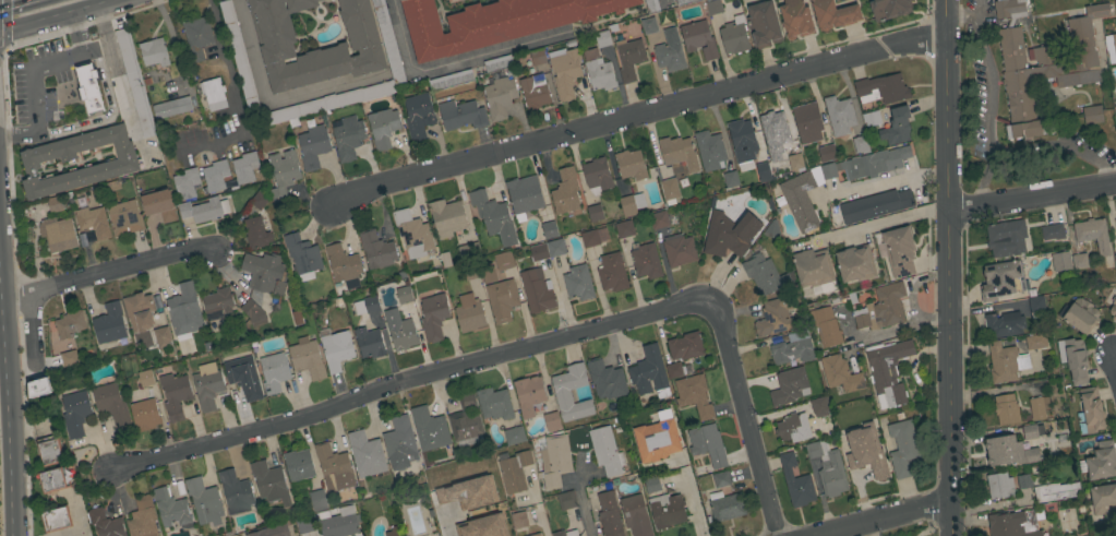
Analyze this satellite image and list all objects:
building: (1115, 0)
building: (451, 1)
building: (685, 2)
road: (4, 3)
building: (651, 5)
building: (713, 7)
building: (889, 9)
road: (49, 14)
building: (835, 14)
building: (1115, 17)
building: (795, 19)
building: (495, 22)
building: (763, 24)
building: (648, 25)
building: (197, 36)
building: (734, 36)
building: (602, 39)
building: (698, 39)
building: (388, 43)
building: (276, 47)
building: (1111, 47)
building: (670, 51)
building: (154, 52)
building: (238, 52)
building: (537, 57)
building: (629, 58)
road: (453, 61)
building: (1042, 62)
building: (497, 64)
road: (32, 71)
building: (564, 71)
building: (598, 71)
road: (987, 74)
road: (117, 79)
building: (147, 79)
building: (449, 81)
building: (134, 83)
building: (92, 88)
building: (881, 90)
building: (533, 92)
road: (235, 94)
building: (72, 95)
building: (215, 97)
building: (499, 97)
road: (273, 102)
building: (328, 103)
building: (171, 108)
road: (638, 114)
building: (461, 115)
building: (1092, 115)
building: (418, 116)
building: (839, 116)
building: (871, 118)
building: (807, 122)
building: (897, 127)
building: (383, 128)
building: (775, 129)
building: (348, 138)
building: (1115, 140)
building: (742, 141)
building: (861, 144)
building: (313, 146)
building: (709, 150)
road: (1057, 150)
building: (677, 153)
building: (827, 153)
building: (123, 162)
building: (796, 163)
building: (876, 163)
building: (631, 165)
building: (244, 168)
building: (828, 171)
building: (764, 172)
building: (283, 174)
building: (215, 176)
building: (597, 176)
building: (731, 179)
road: (888, 181)
road: (983, 182)
building: (185, 183)
building: (669, 190)
building: (565, 192)
building: (524, 195)
road: (1032, 198)
building: (259, 200)
building: (801, 200)
building: (55, 204)
building: (158, 204)
building: (631, 204)
building: (875, 205)
building: (204, 210)
building: (595, 213)
building: (447, 217)
building: (493, 217)
building: (124, 218)
building: (659, 221)
building: (93, 222)
road: (883, 222)
building: (1115, 223)
building: (549, 229)
building: (624, 229)
building: (772, 229)
building: (1052, 231)
building: (255, 233)
building: (57, 234)
building: (412, 234)
building: (727, 234)
building: (1093, 234)
building: (1008, 235)
building: (589, 239)
building: (376, 250)
building: (547, 250)
building: (679, 250)
building: (469, 251)
building: (899, 251)
building: (302, 257)
building: (444, 260)
building: (1115, 260)
building: (503, 261)
building: (645, 261)
building: (1060, 261)
building: (1079, 261)
building: (343, 263)
building: (855, 264)
road: (948, 267)
building: (815, 270)
building: (470, 271)
road: (108, 272)
building: (611, 272)
building: (265, 273)
building: (764, 275)
building: (489, 276)
building: (1001, 281)
building: (578, 283)
road: (912, 286)
building: (536, 291)
building: (404, 295)
building: (219, 300)
building: (502, 300)
building: (367, 303)
building: (1036, 306)
building: (883, 308)
building: (1113, 309)
building: (184, 310)
building: (139, 311)
building: (253, 313)
building: (469, 313)
building: (1080, 315)
building: (433, 317)
building: (775, 318)
building: (68, 324)
building: (109, 324)
building: (1004, 324)
building: (826, 326)
road: (898, 330)
building: (400, 331)
road: (35, 333)
building: (161, 335)
building: (143, 340)
building: (1035, 342)
building: (370, 343)
building: (685, 346)
building: (793, 349)
building: (336, 350)
building: (69, 358)
building: (307, 358)
building: (1076, 360)
building: (1006, 362)
road: (1113, 365)
building: (676, 370)
building: (888, 371)
building: (274, 372)
building: (649, 372)
building: (840, 374)
building: (243, 377)
building: (145, 378)
road: (411, 380)
building: (605, 380)
building: (207, 386)
building: (789, 386)
building: (44, 389)
building: (562, 394)
building: (175, 395)
building: (529, 395)
building: (694, 395)
building: (110, 404)
building: (494, 404)
building: (818, 405)
building: (1039, 407)
building: (1006, 409)
building: (1090, 412)
building: (75, 413)
building: (144, 415)
road: (5, 418)
building: (466, 418)
road: (745, 419)
building: (551, 421)
building: (793, 428)
building: (429, 429)
building: (1029, 432)
building: (514, 436)
building: (656, 438)
building: (399, 443)
building: (707, 444)
building: (903, 449)
building: (49, 450)
building: (813, 450)
building: (605, 451)
building: (865, 451)
building: (1009, 452)
building: (365, 454)
building: (1102, 461)
building: (333, 463)
building: (554, 463)
building: (298, 465)
building: (514, 471)
building: (832, 475)
building: (721, 479)
building: (53, 480)
building: (1027, 480)
building: (269, 483)
building: (795, 483)
building: (651, 485)
building: (999, 486)
building: (236, 492)
building: (468, 492)
building: (1056, 492)
road: (579, 496)
building: (317, 500)
building: (566, 500)
building: (1104, 500)
building: (204, 501)
building: (725, 507)
building: (170, 508)
road: (539, 511)
building: (667, 511)
building: (609, 515)
building: (635, 515)
building: (143, 519)
road: (879, 519)
building: (56, 520)
building: (518, 520)
building: (105, 523)
building: (340, 523)
road: (445, 524)
building: (1011, 524)
building: (304, 525)
building: (482, 526)
building: (272, 531)
building: (392, 532)
building: (565, 533)
building: (535, 535)

